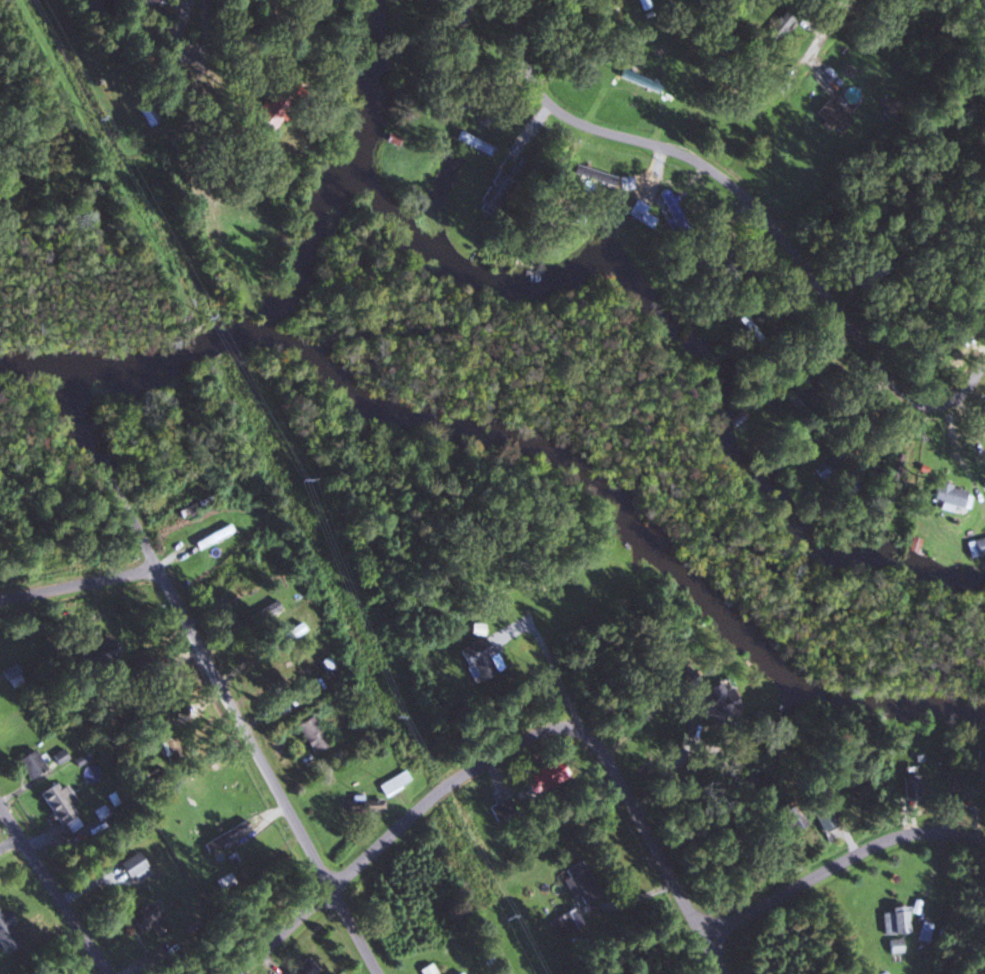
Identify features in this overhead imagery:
road: (447, 17)
road: (199, 50)
building: (637, 80)
road: (779, 82)
building: (830, 116)
power tower: (95, 117)
building: (473, 143)
building: (590, 177)
road: (752, 207)
building: (672, 212)
building: (639, 213)
building: (209, 245)
power tower: (207, 317)
building: (797, 448)
building: (890, 469)
power tower: (293, 480)
building: (945, 494)
building: (196, 505)
building: (211, 536)
building: (975, 546)
road: (150, 548)
building: (225, 564)
building: (243, 586)
building: (263, 610)
road: (89, 614)
building: (290, 632)
building: (472, 657)
building: (290, 699)
building: (712, 701)
building: (153, 704)
power tower: (388, 717)
building: (309, 734)
building: (978, 761)
building: (29, 763)
building: (543, 776)
building: (950, 781)
building: (392, 783)
road: (275, 786)
road: (618, 786)
building: (908, 786)
building: (54, 802)
building: (201, 803)
building: (360, 806)
building: (497, 810)
building: (788, 817)
building: (817, 817)
road: (394, 833)
building: (224, 835)
road: (8, 849)
road: (840, 864)
building: (128, 867)
building: (577, 881)
road: (48, 896)
power tower: (504, 916)
building: (147, 920)
building: (565, 920)
road: (718, 921)
building: (892, 921)
building: (923, 932)
building: (6, 934)
building: (942, 934)
building: (894, 946)
building: (300, 967)
building: (881, 972)
building: (457, 973)

